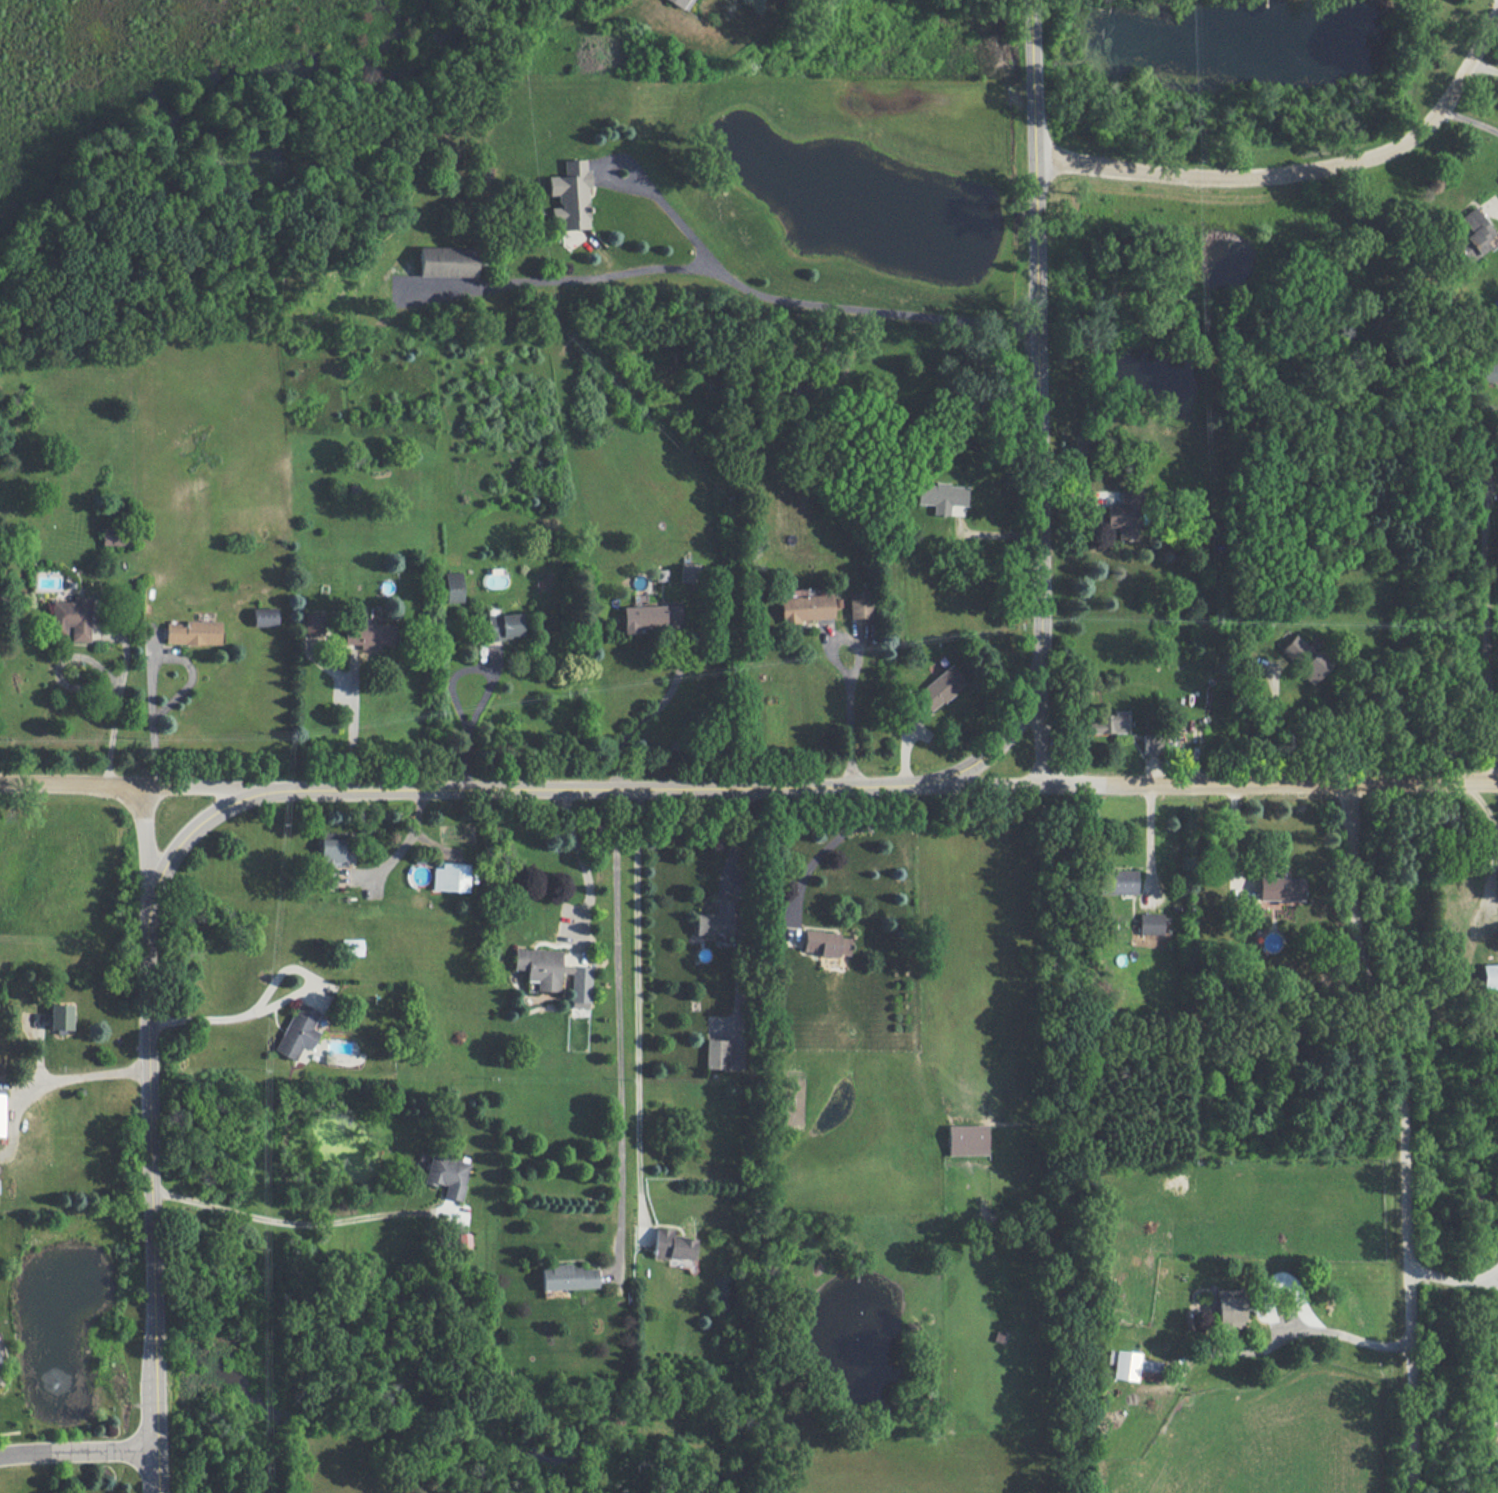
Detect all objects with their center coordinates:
building: (681, 3)
road: (1483, 66)
road: (1471, 118)
road: (1304, 176)
building: (571, 195)
building: (1472, 234)
building: (446, 261)
road: (812, 304)
building: (1489, 369)
road: (1036, 422)
building: (940, 496)
building: (1124, 514)
building: (113, 536)
building: (688, 572)
building: (453, 586)
building: (859, 604)
building: (805, 606)
road: (1484, 613)
building: (264, 616)
building: (652, 616)
building: (72, 617)
building: (313, 622)
building: (503, 625)
building: (192, 632)
building: (369, 634)
building: (1303, 657)
building: (939, 687)
road: (120, 699)
road: (640, 715)
road: (849, 716)
road: (153, 718)
road: (472, 719)
building: (1107, 722)
road: (354, 724)
road: (1041, 727)
road: (1272, 728)
building: (1151, 743)
road: (1209, 780)
road: (147, 786)
road: (607, 786)
road: (1484, 798)
road: (1149, 835)
road: (1235, 835)
road: (734, 836)
road: (408, 844)
road: (815, 846)
road: (144, 852)
building: (331, 855)
road: (581, 859)
building: (451, 876)
building: (1117, 880)
building: (1280, 887)
road: (1487, 890)
building: (716, 918)
building: (1150, 923)
building: (825, 942)
building: (351, 946)
building: (554, 972)
building: (1489, 975)
road: (640, 997)
building: (60, 1017)
road: (219, 1019)
road: (619, 1025)
building: (297, 1031)
building: (716, 1053)
road: (80, 1076)
road: (149, 1097)
building: (1, 1113)
road: (1400, 1131)
building: (967, 1139)
building: (446, 1174)
road: (295, 1224)
building: (670, 1244)
building: (566, 1276)
road: (1452, 1278)
road: (1494, 1280)
building: (1229, 1308)
road: (1343, 1334)
building: (1135, 1366)
road: (78, 1449)
building: (1496, 1473)

